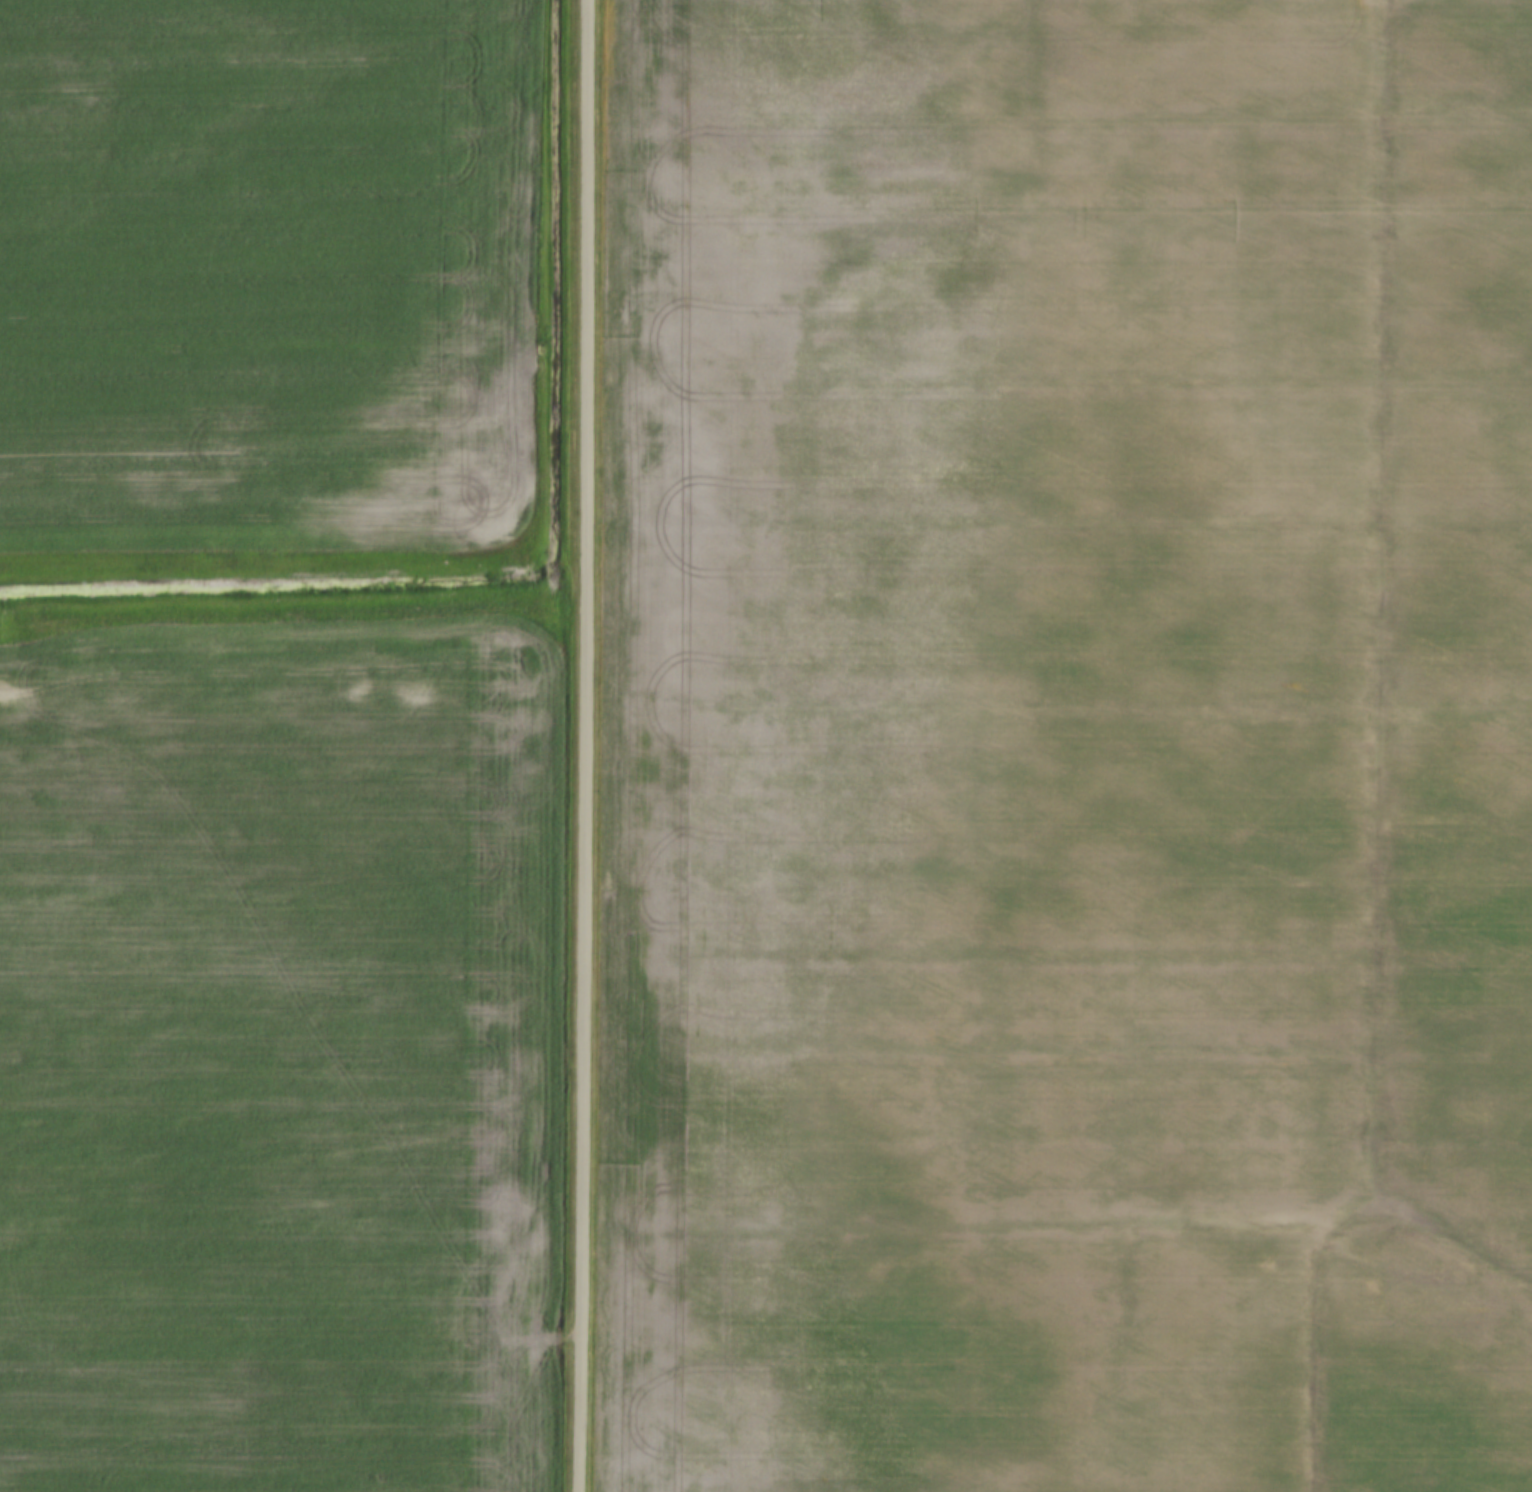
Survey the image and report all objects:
road: (584, 746)

